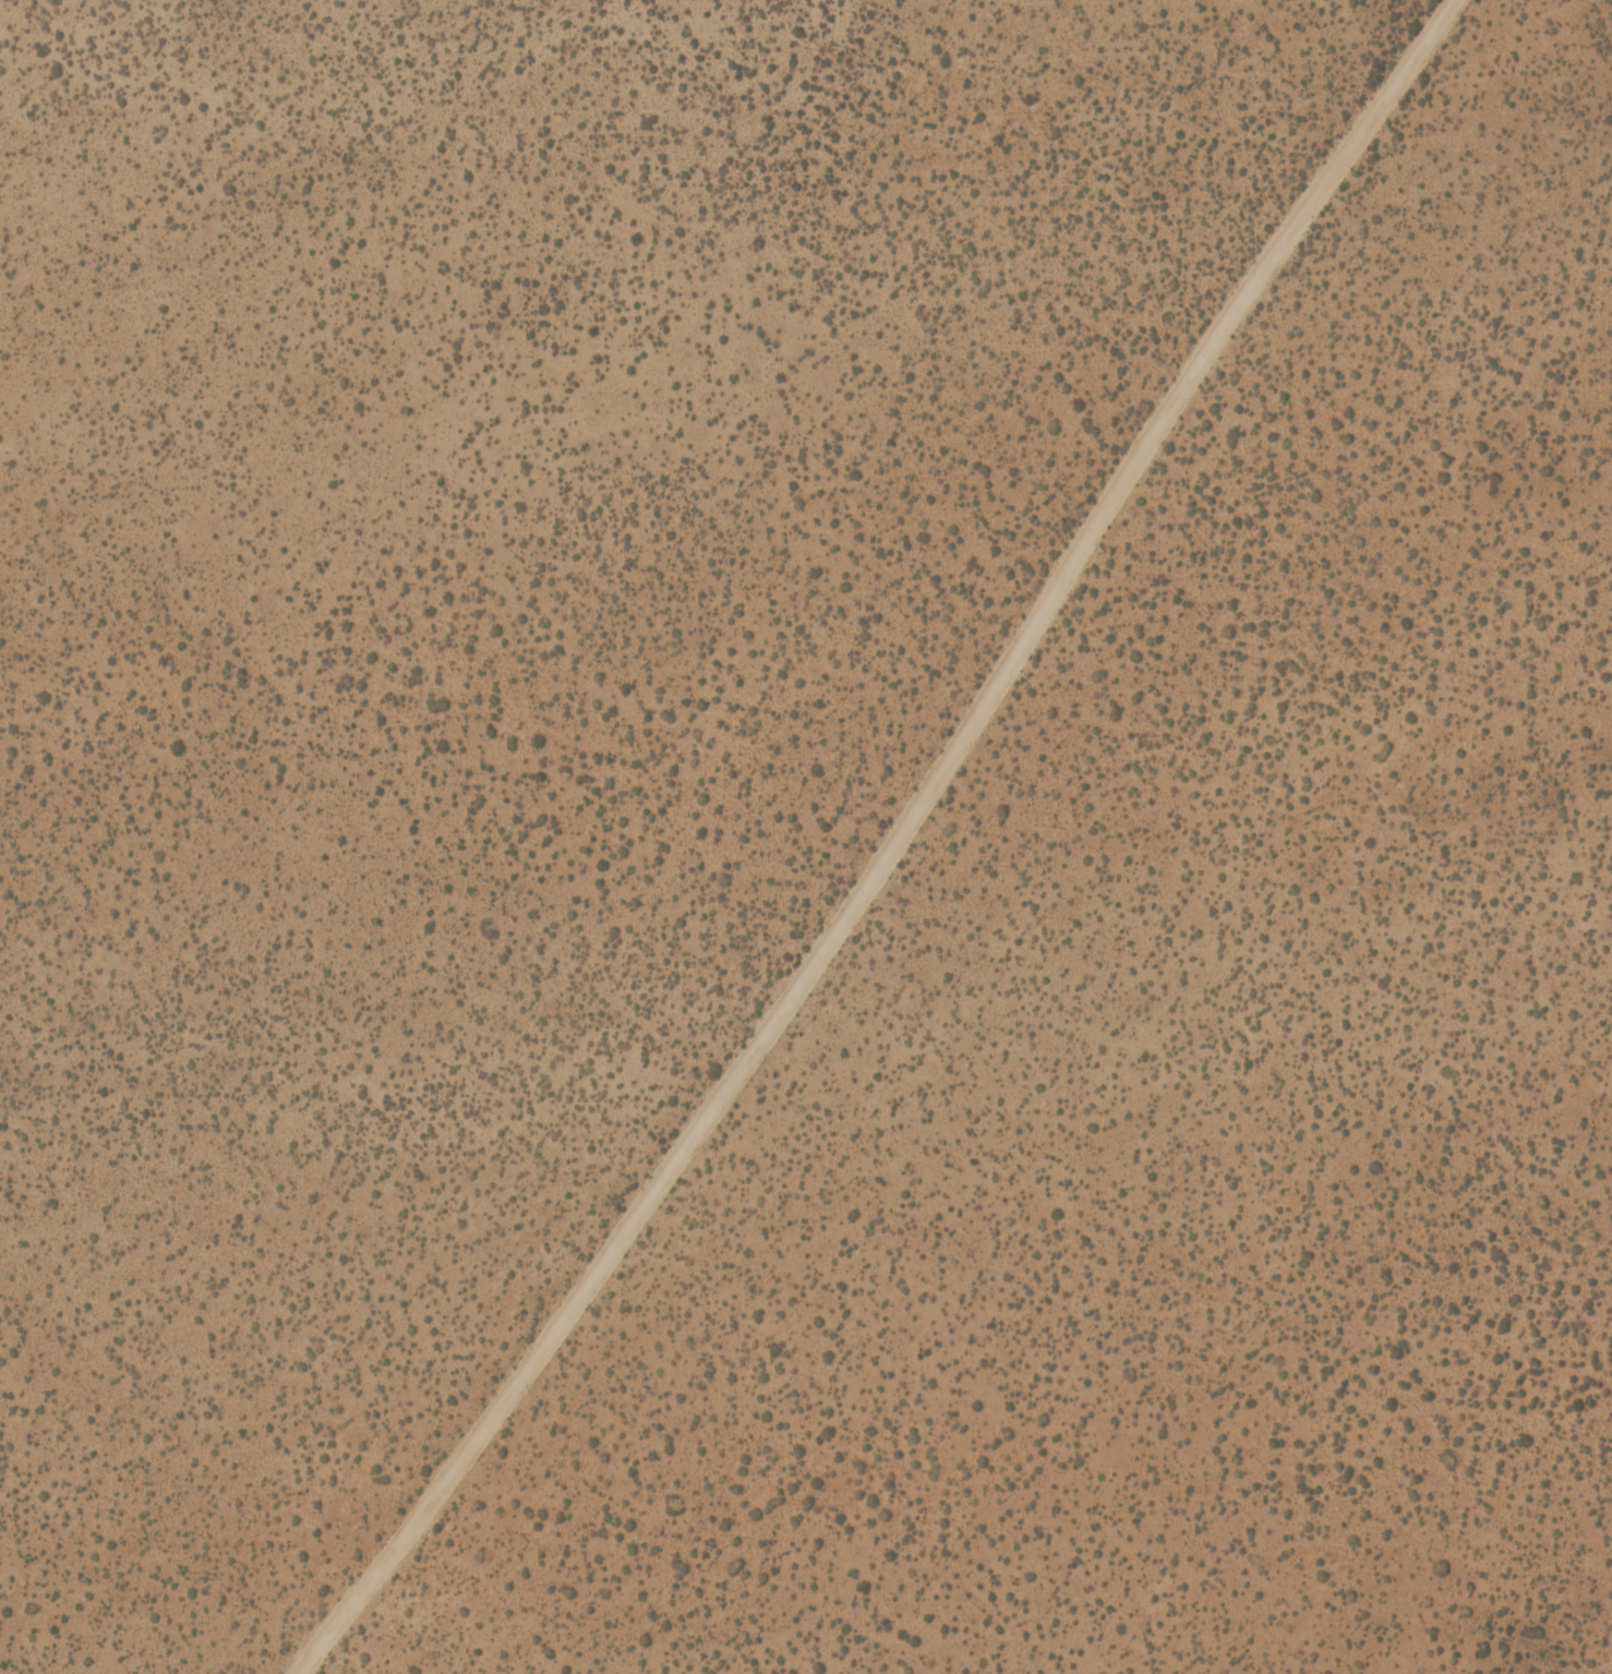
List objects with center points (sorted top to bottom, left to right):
road: (892, 845)

